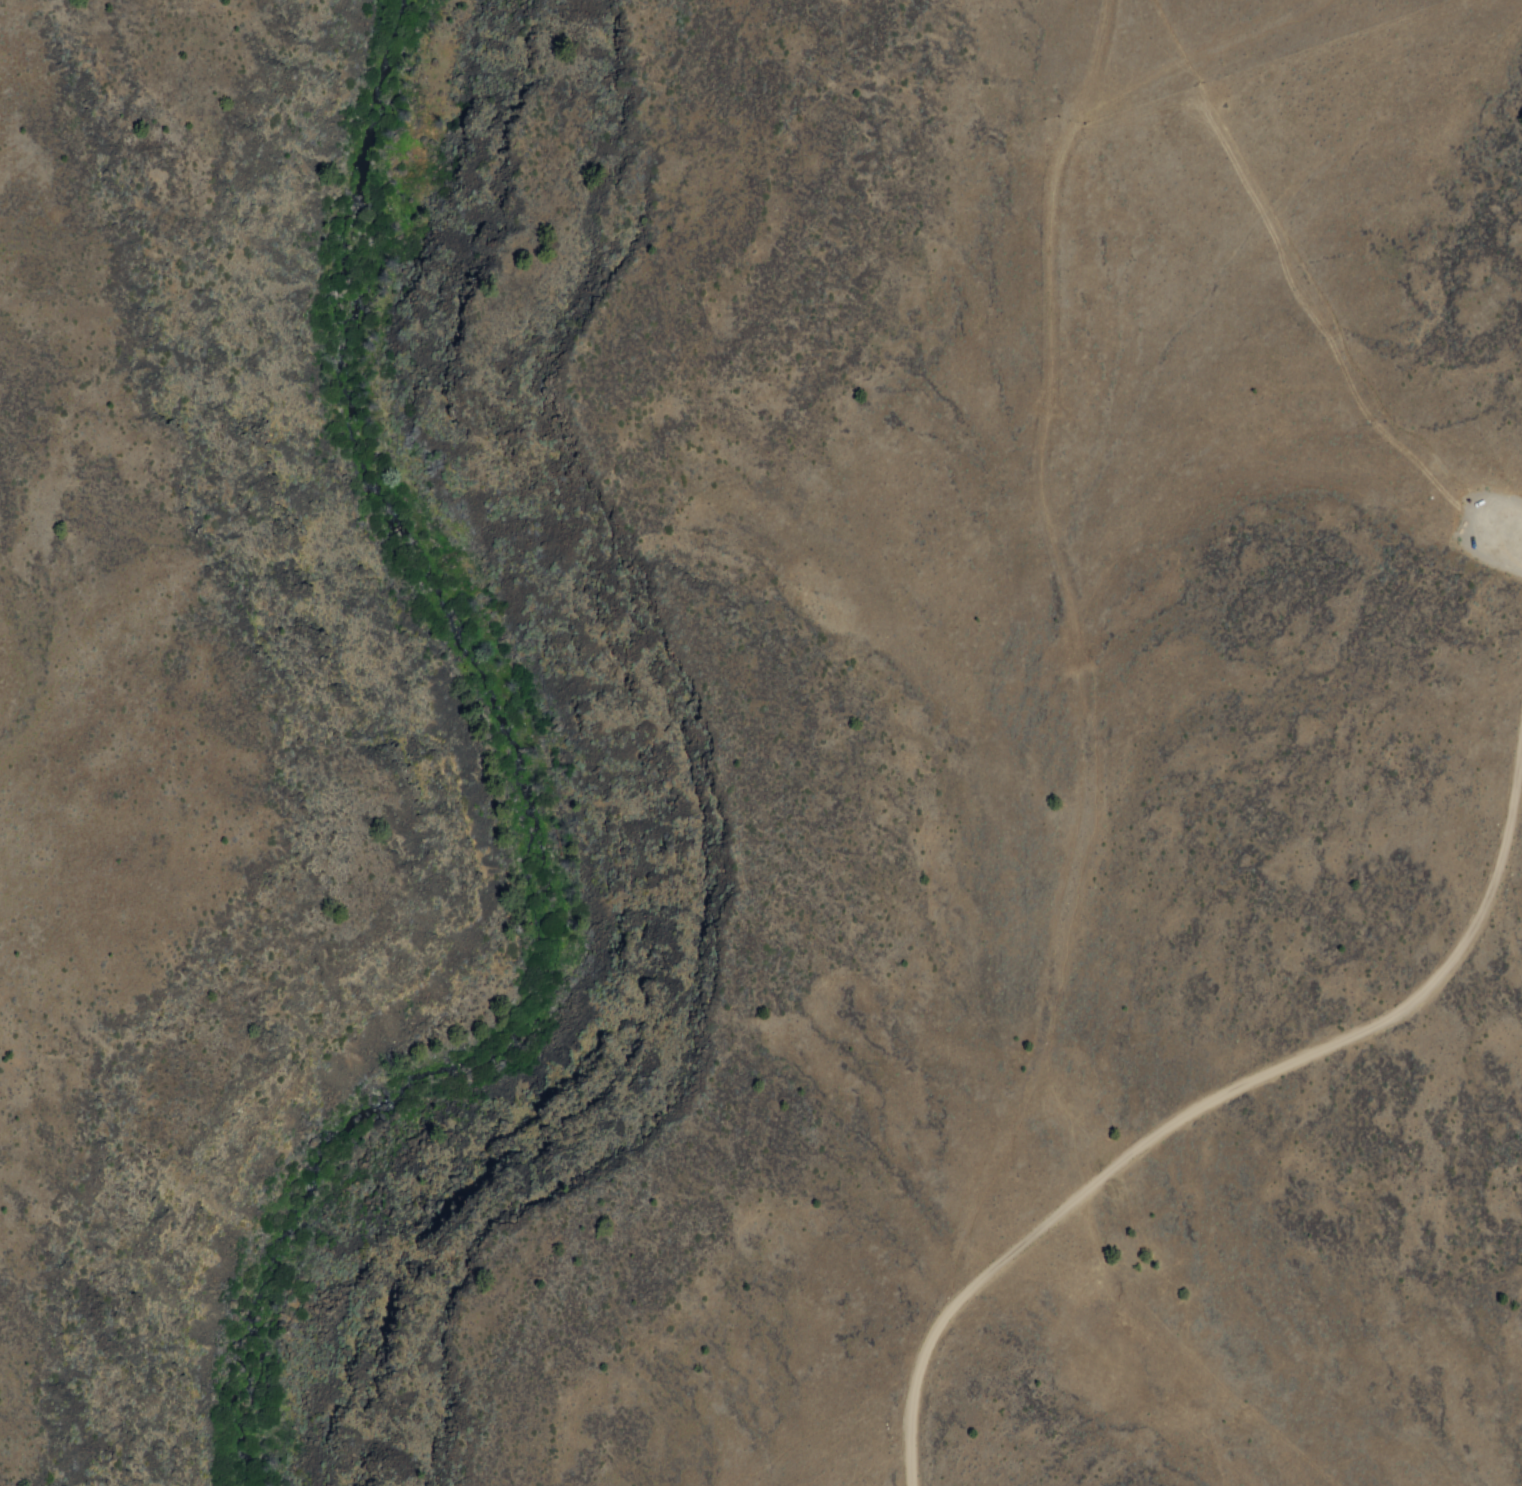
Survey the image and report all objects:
road: (1203, 54)
road: (1094, 749)

